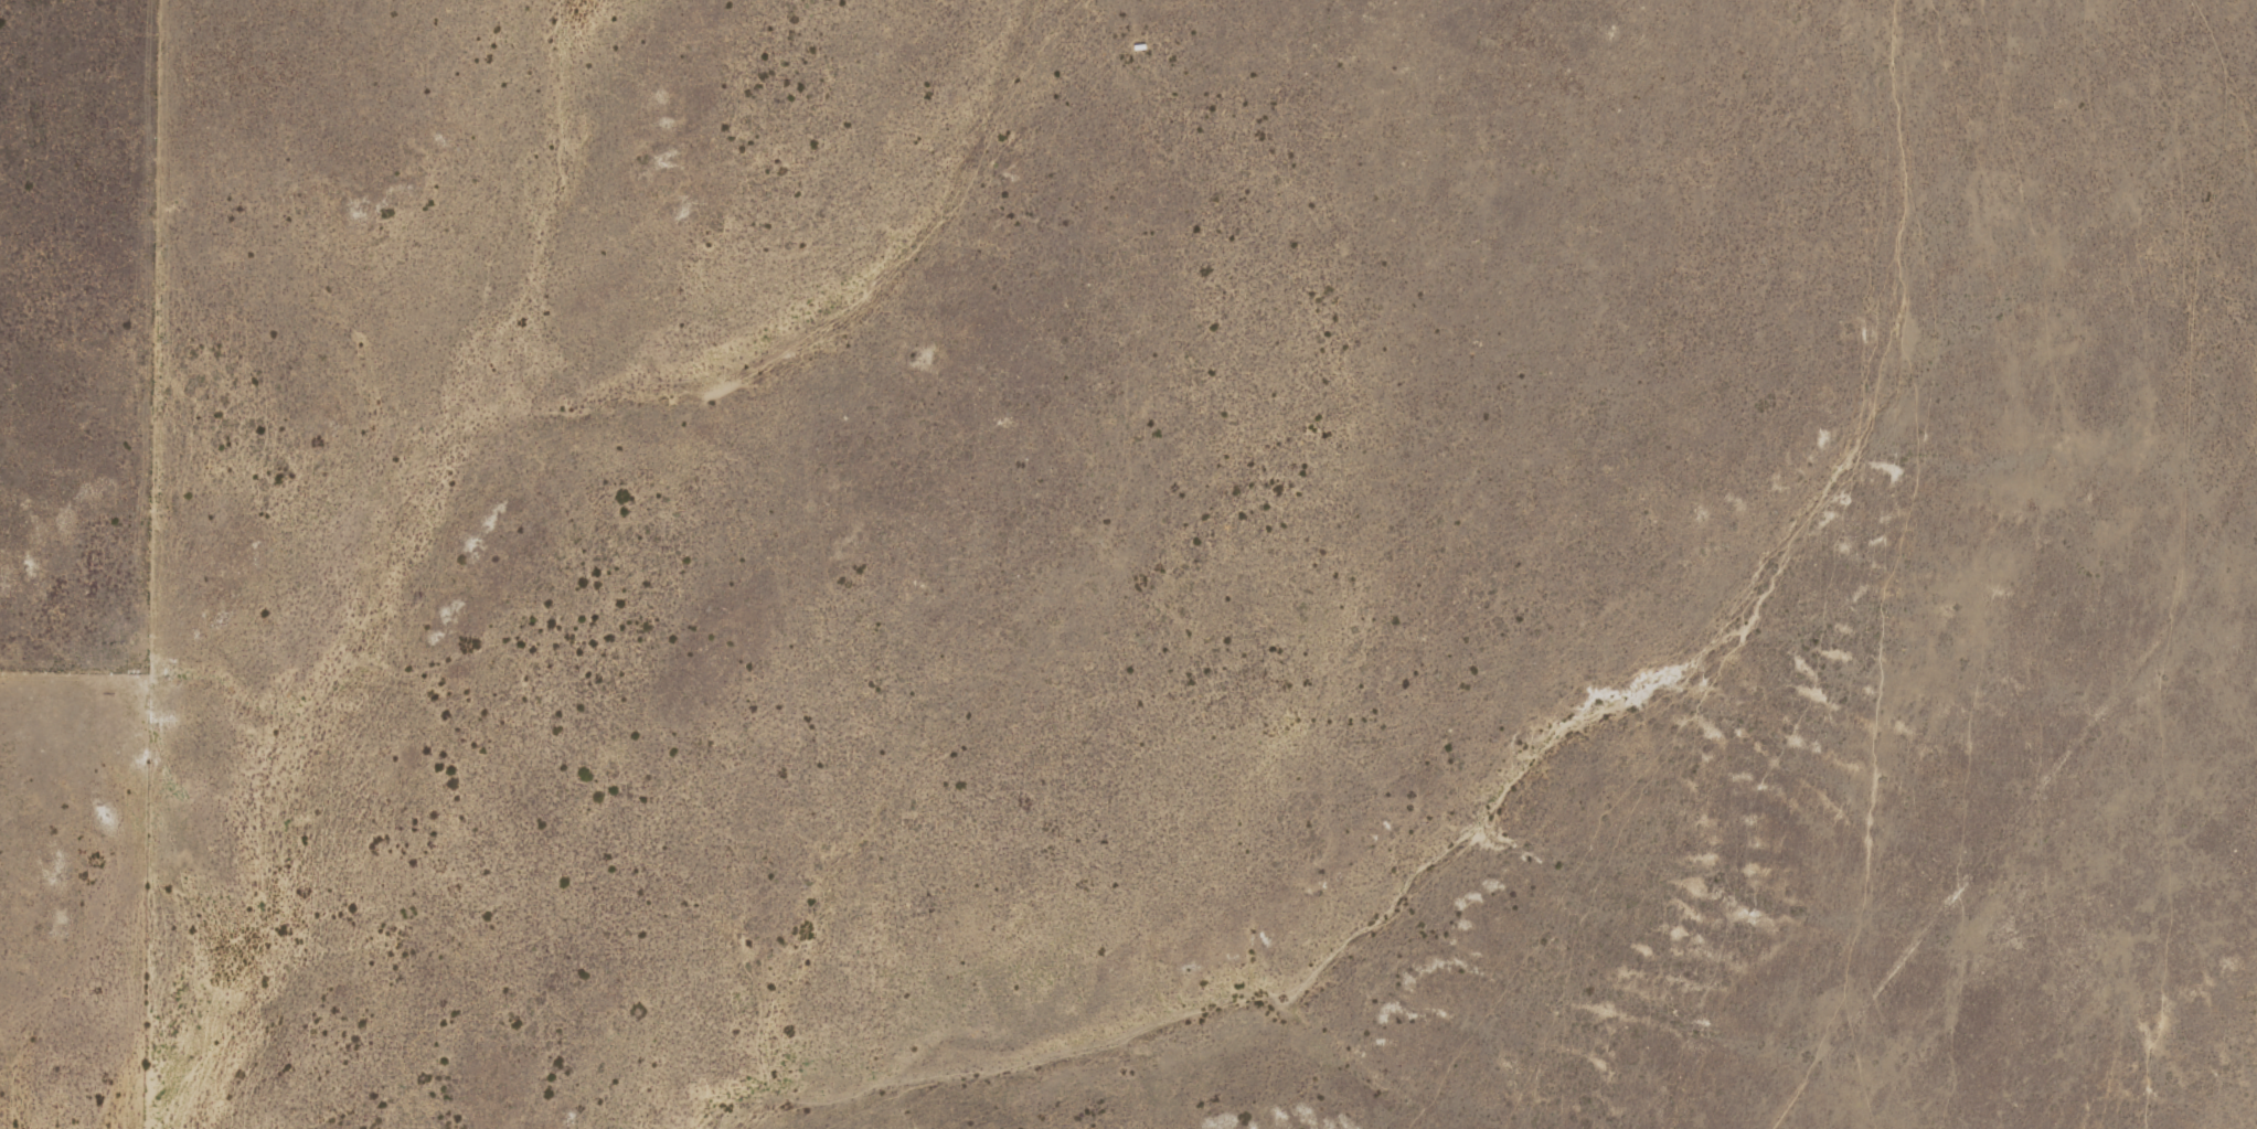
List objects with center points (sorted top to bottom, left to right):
road: (2236, 47)
road: (2038, 813)

